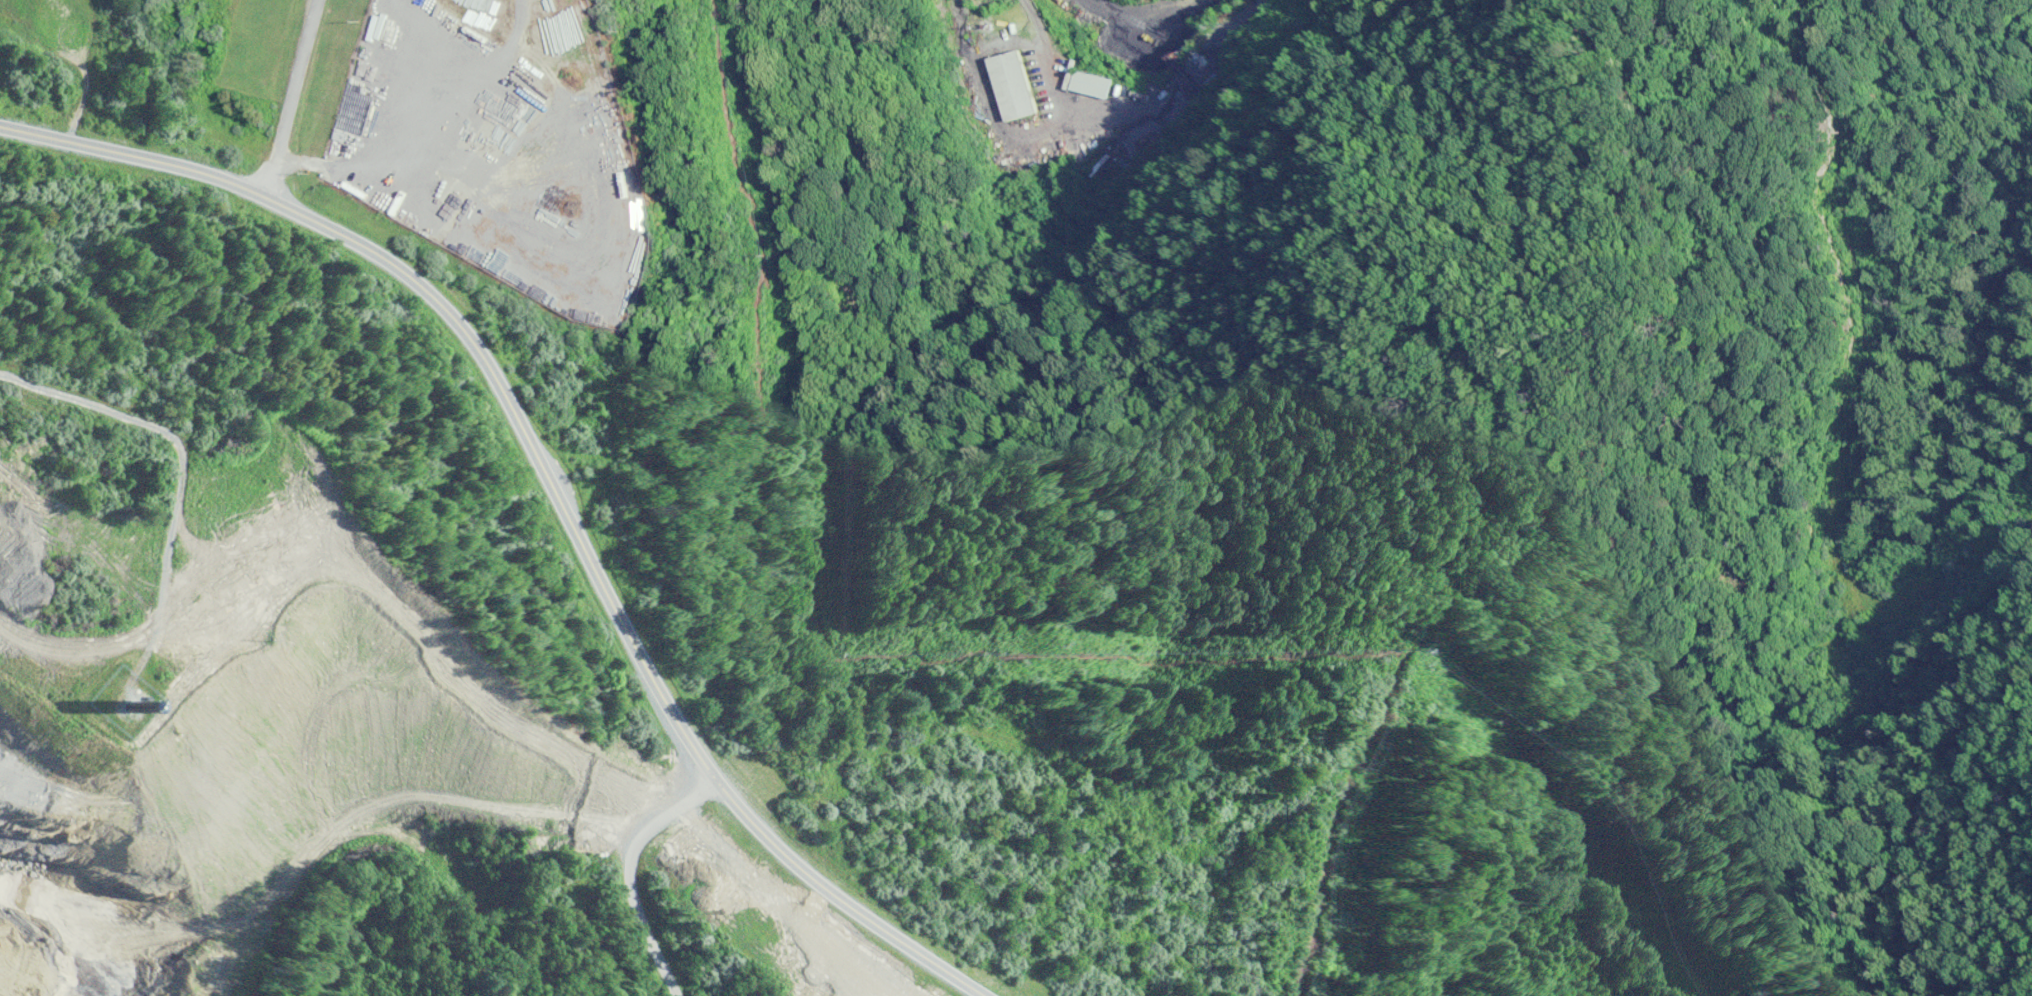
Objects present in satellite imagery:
building: (1087, 85)
building: (1009, 87)
road: (551, 479)
quarry: (228, 694)

